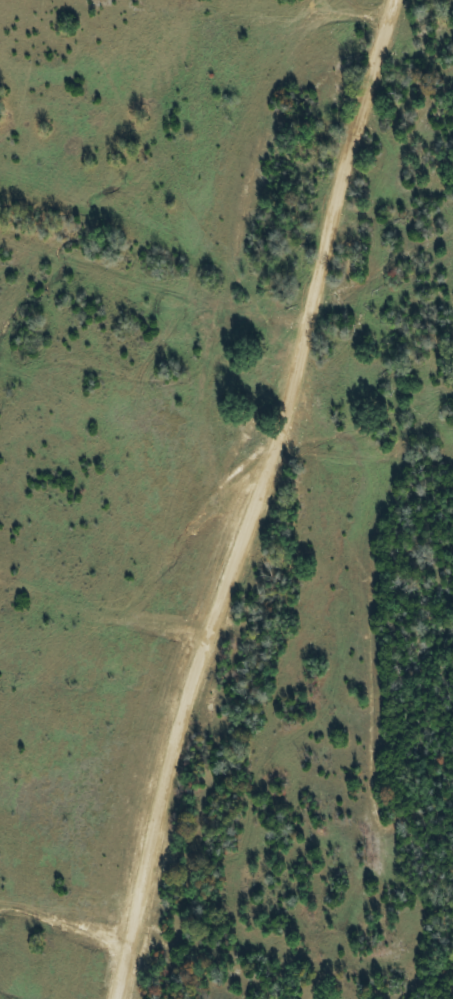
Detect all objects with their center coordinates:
road: (247, 498)

